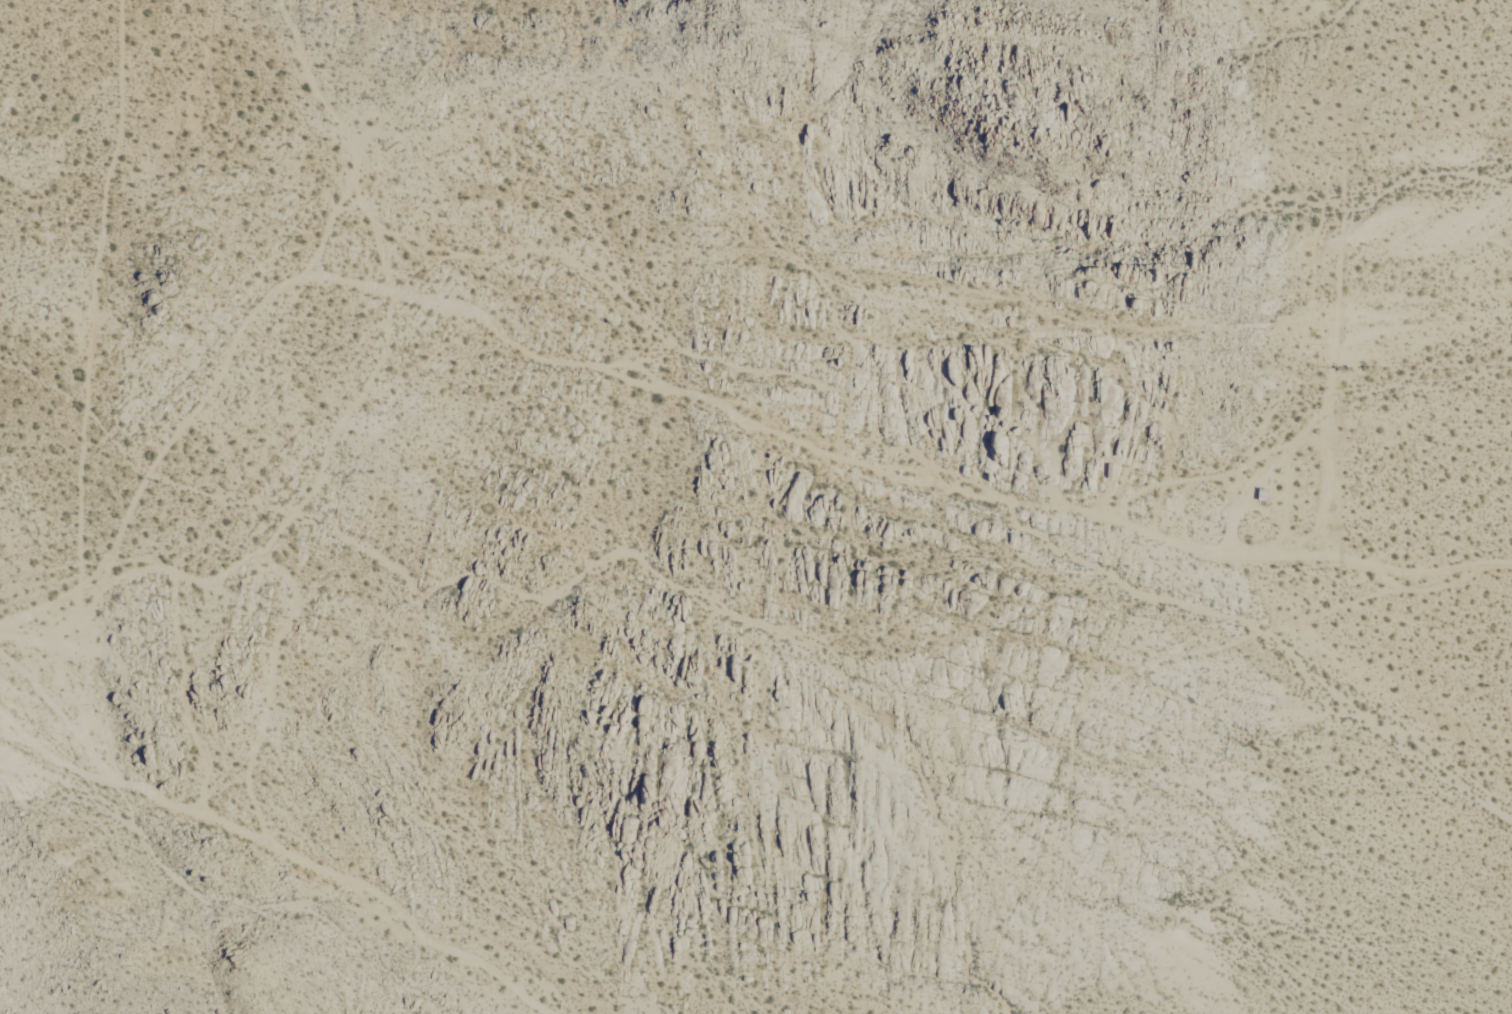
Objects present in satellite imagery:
road: (283, 849)

